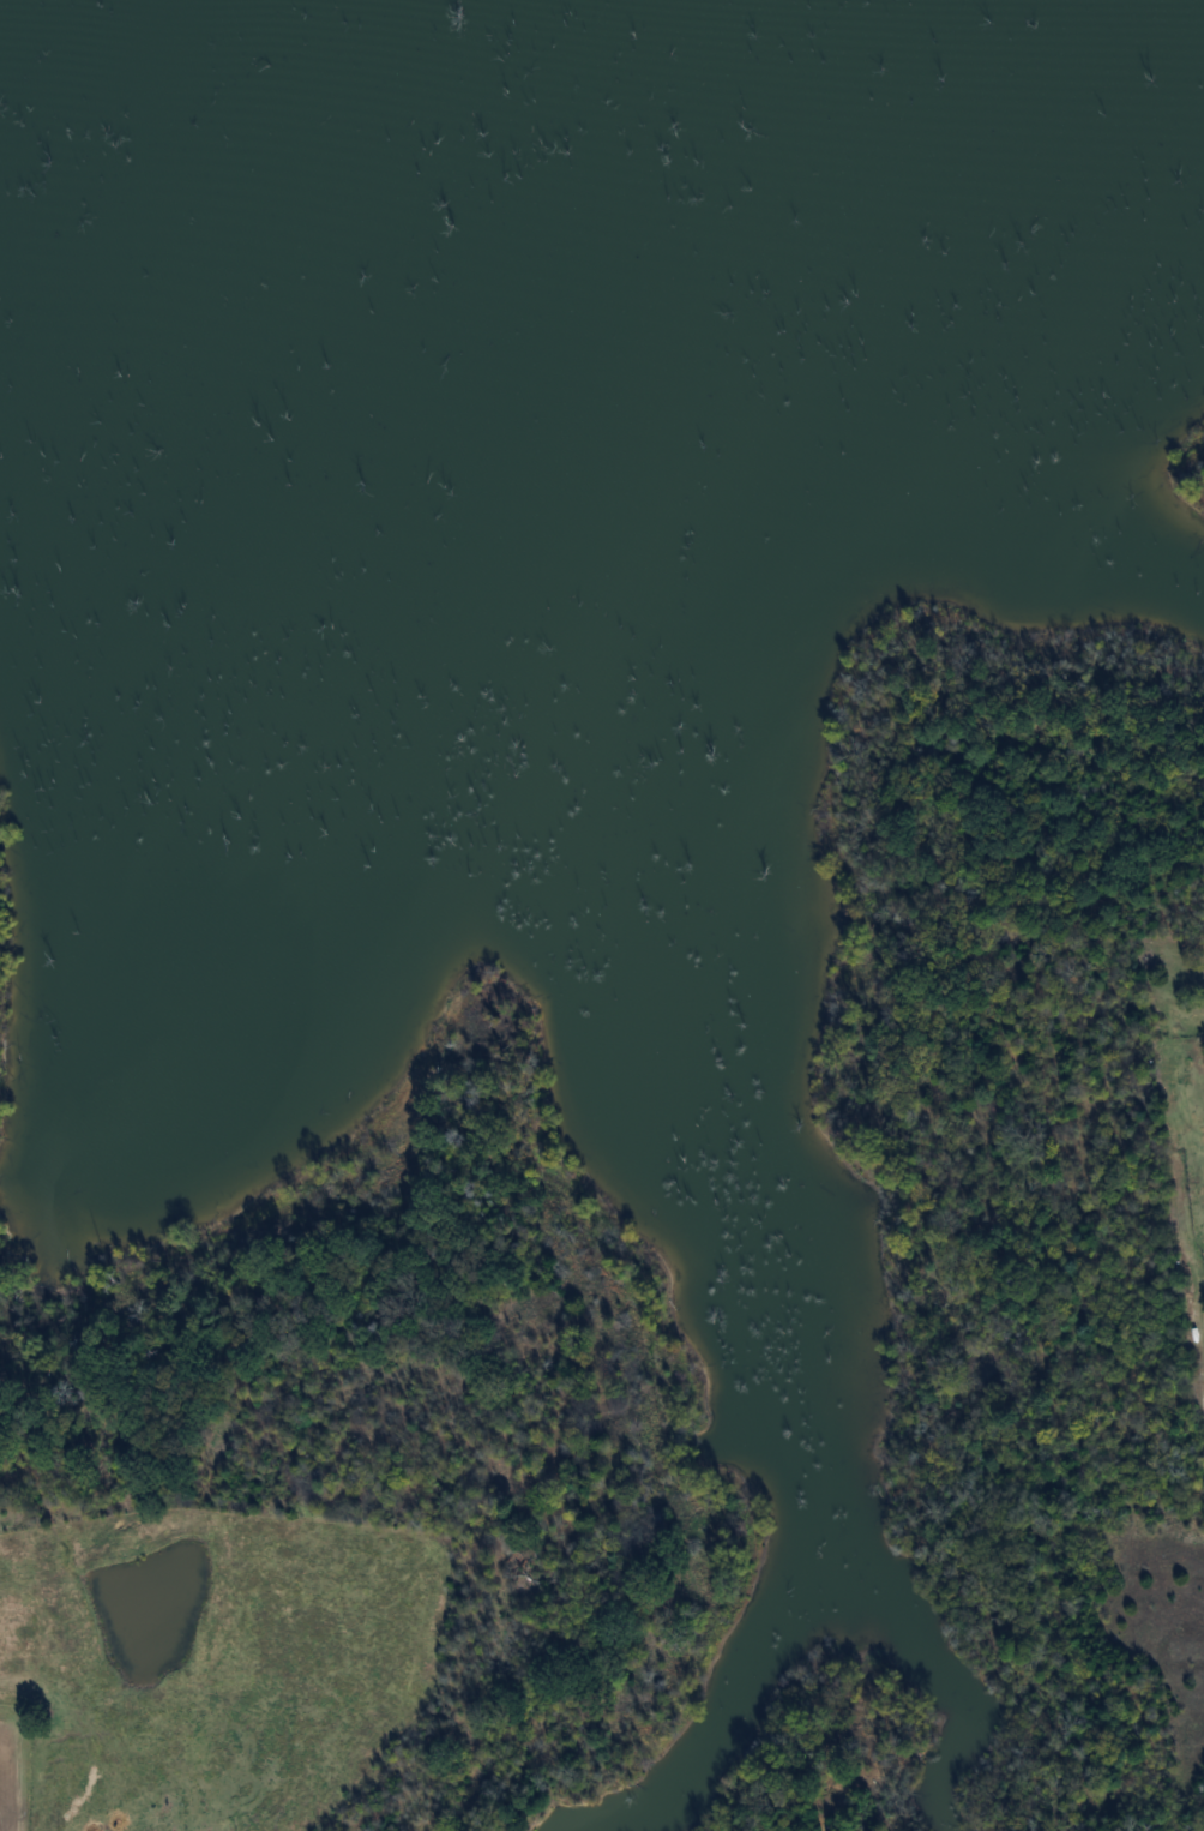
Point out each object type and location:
road: (1202, 1449)

